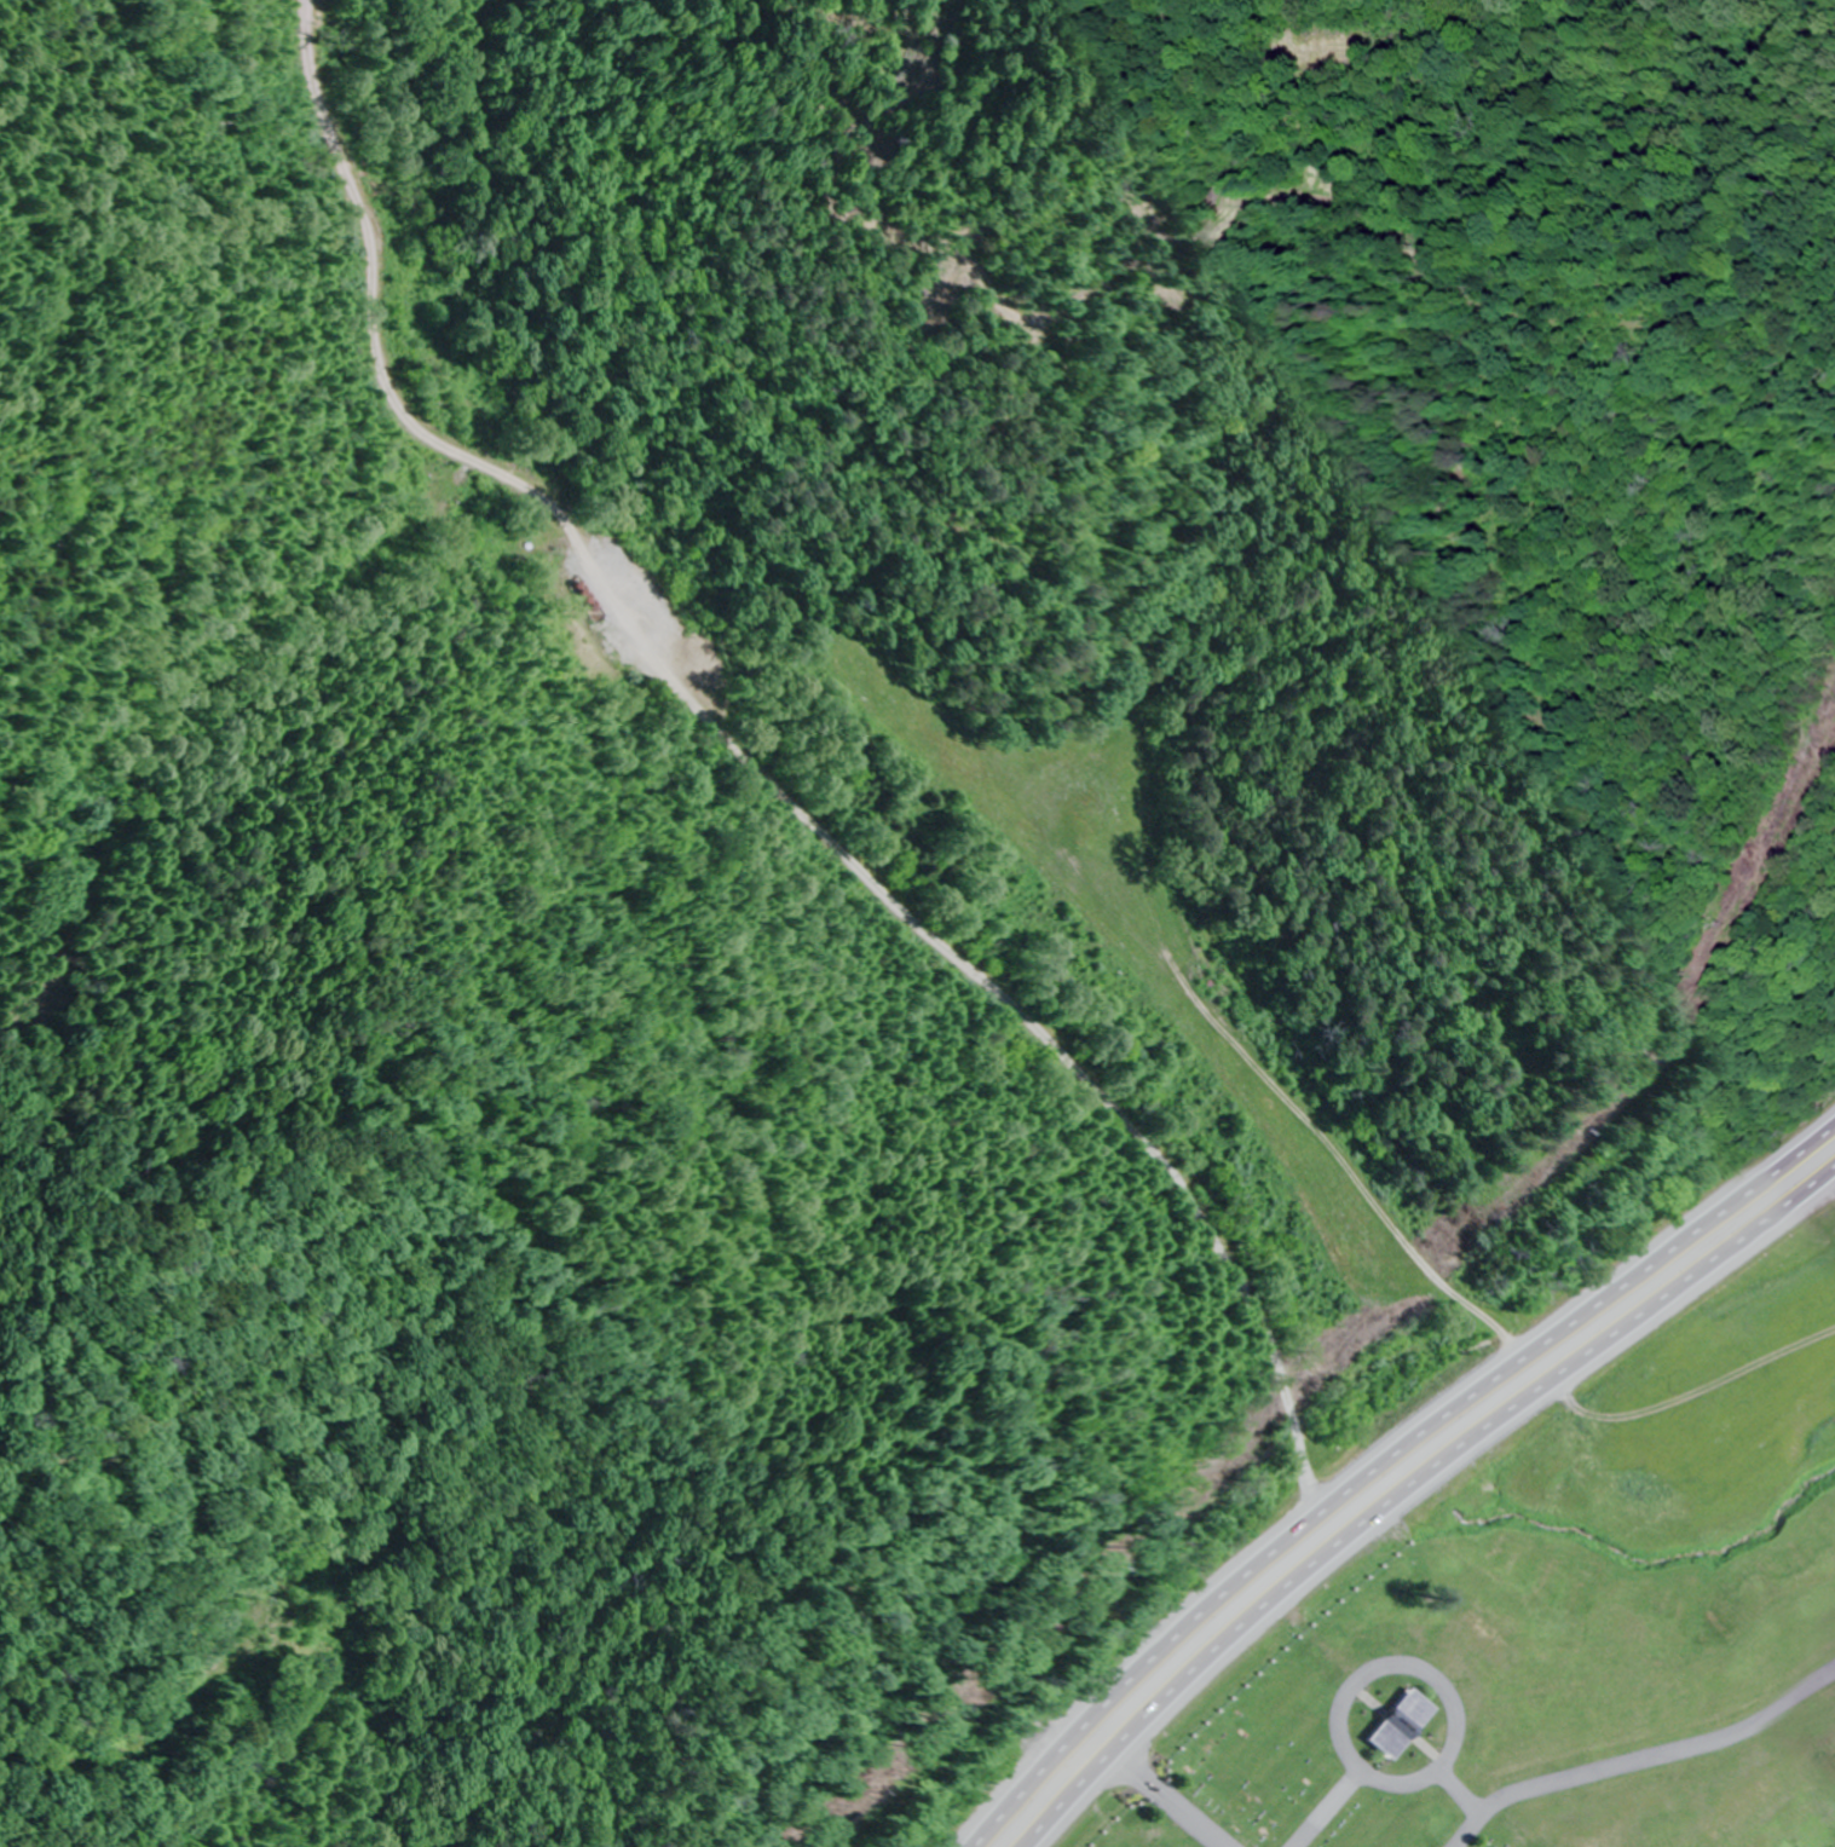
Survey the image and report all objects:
road: (954, 1000)
road: (1384, 1456)
road: (1415, 1488)
building: (1384, 1643)

